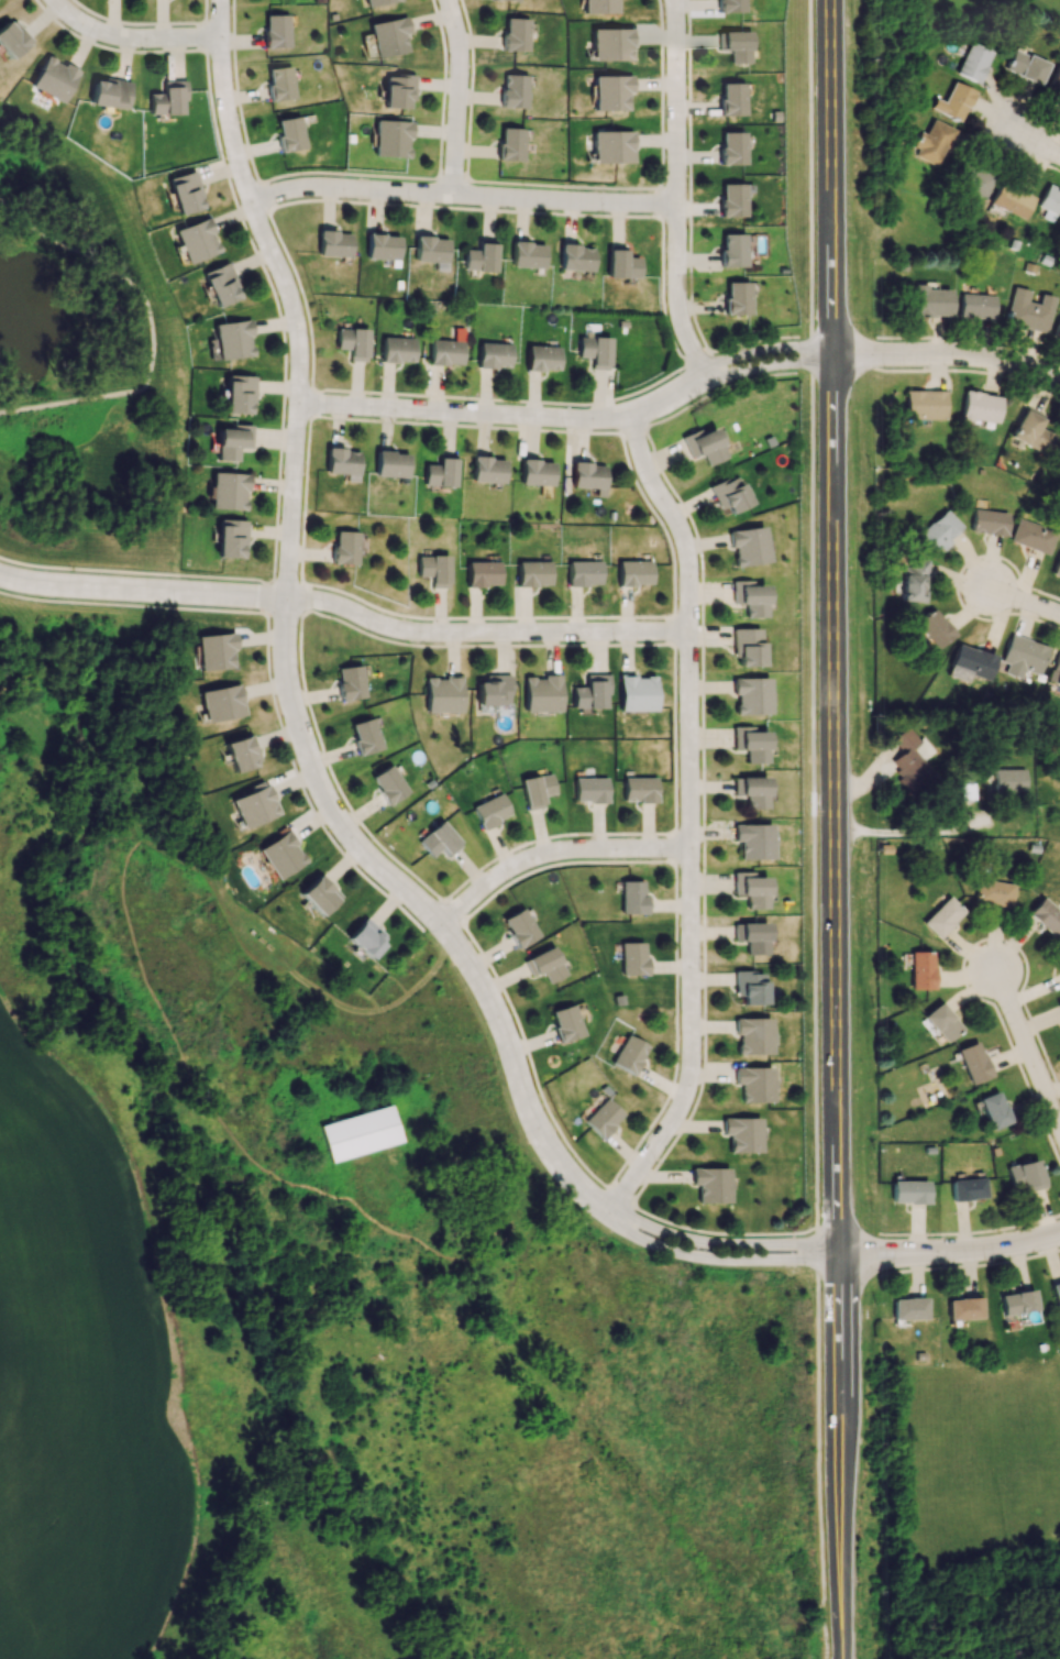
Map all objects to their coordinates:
building: (509, 0)
building: (376, 2)
building: (600, 6)
building: (731, 7)
road: (141, 22)
road: (135, 29)
building: (275, 31)
building: (388, 34)
building: (517, 34)
building: (12, 37)
building: (612, 43)
building: (737, 44)
road: (113, 47)
building: (974, 62)
building: (1026, 66)
building: (54, 78)
building: (1055, 80)
building: (278, 83)
road: (443, 88)
road: (471, 89)
building: (398, 90)
building: (515, 90)
building: (611, 91)
road: (238, 92)
building: (111, 94)
road: (661, 94)
road: (457, 95)
building: (167, 98)
building: (732, 98)
building: (953, 101)
building: (289, 134)
building: (391, 138)
building: (932, 142)
road: (1035, 143)
building: (511, 145)
building: (612, 147)
building: (732, 147)
road: (810, 166)
road: (347, 173)
road: (688, 177)
road: (452, 179)
building: (971, 179)
road: (563, 184)
road: (675, 190)
building: (183, 193)
road: (461, 193)
road: (263, 196)
building: (732, 199)
building: (1009, 200)
road: (661, 202)
building: (1049, 202)
road: (464, 207)
road: (255, 212)
road: (676, 215)
building: (195, 241)
building: (333, 243)
building: (382, 246)
building: (430, 249)
building: (732, 249)
building: (527, 254)
building: (481, 257)
building: (574, 257)
building: (621, 264)
building: (219, 285)
road: (270, 286)
road: (664, 293)
road: (301, 295)
building: (738, 297)
building: (930, 300)
building: (975, 306)
building: (1028, 310)
road: (152, 327)
building: (1057, 330)
building: (232, 340)
building: (353, 341)
road: (752, 341)
building: (397, 349)
road: (764, 349)
building: (595, 350)
building: (446, 351)
building: (493, 353)
road: (811, 353)
road: (947, 356)
building: (541, 358)
road: (697, 359)
park: (85, 362)
road: (768, 365)
road: (297, 385)
road: (717, 391)
building: (238, 395)
road: (500, 398)
road: (310, 400)
building: (924, 404)
building: (979, 407)
road: (507, 411)
road: (610, 416)
road: (463, 426)
road: (632, 428)
building: (1030, 431)
building: (232, 443)
building: (705, 448)
building: (342, 463)
building: (390, 465)
building: (442, 471)
building: (487, 471)
building: (535, 472)
building: (588, 476)
building: (227, 490)
building: (728, 495)
road: (305, 498)
road: (658, 520)
building: (989, 523)
building: (939, 530)
building: (229, 535)
building: (1031, 536)
building: (344, 546)
building: (748, 546)
building: (1057, 567)
building: (434, 568)
building: (584, 570)
building: (483, 571)
building: (533, 571)
building: (634, 571)
road: (135, 572)
building: (914, 579)
road: (287, 582)
road: (269, 597)
road: (301, 597)
building: (748, 597)
road: (1026, 603)
road: (132, 605)
road: (342, 605)
road: (284, 612)
road: (485, 616)
road: (831, 624)
building: (934, 628)
road: (674, 629)
road: (484, 644)
road: (687, 644)
building: (746, 646)
building: (213, 651)
building: (1023, 656)
road: (290, 658)
building: (971, 661)
building: (1056, 671)
building: (351, 682)
building: (494, 691)
building: (589, 691)
building: (636, 692)
building: (442, 693)
building: (541, 693)
building: (751, 694)
building: (221, 702)
building: (364, 736)
building: (750, 743)
building: (240, 755)
building: (910, 759)
road: (332, 776)
building: (1009, 780)
building: (388, 782)
building: (640, 785)
building: (590, 787)
building: (537, 788)
road: (303, 790)
building: (751, 791)
road: (813, 800)
building: (254, 807)
building: (489, 809)
road: (686, 814)
road: (907, 831)
road: (642, 833)
road: (688, 833)
building: (439, 838)
building: (753, 841)
road: (674, 847)
road: (552, 853)
building: (281, 855)
building: (750, 889)
building: (994, 893)
building: (319, 894)
building: (632, 896)
road: (451, 912)
road: (704, 912)
building: (942, 916)
building: (1046, 916)
building: (519, 927)
building: (752, 936)
building: (366, 938)
road: (481, 953)
building: (1057, 955)
building: (632, 958)
building: (544, 964)
building: (920, 969)
building: (749, 986)
building: (1059, 1003)
building: (564, 1022)
building: (941, 1022)
road: (676, 1034)
building: (753, 1035)
road: (1028, 1046)
building: (629, 1053)
building: (973, 1063)
building: (754, 1084)
building: (993, 1110)
building: (604, 1117)
building: (360, 1132)
building: (743, 1134)
building: (1024, 1175)
building: (711, 1185)
building: (967, 1188)
building: (908, 1191)
road: (619, 1195)
road: (706, 1240)
road: (814, 1241)
road: (813, 1249)
road: (948, 1255)
road: (722, 1259)
building: (1056, 1295)
building: (1017, 1301)
building: (908, 1308)
building: (963, 1308)
road: (836, 1380)
crop: (79, 1387)
road: (818, 1465)
road: (839, 1584)

